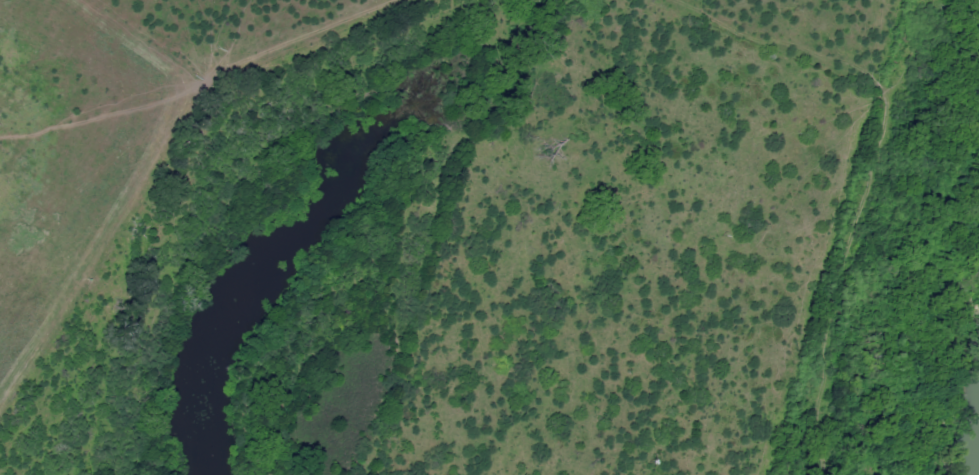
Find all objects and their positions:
road: (863, 235)

